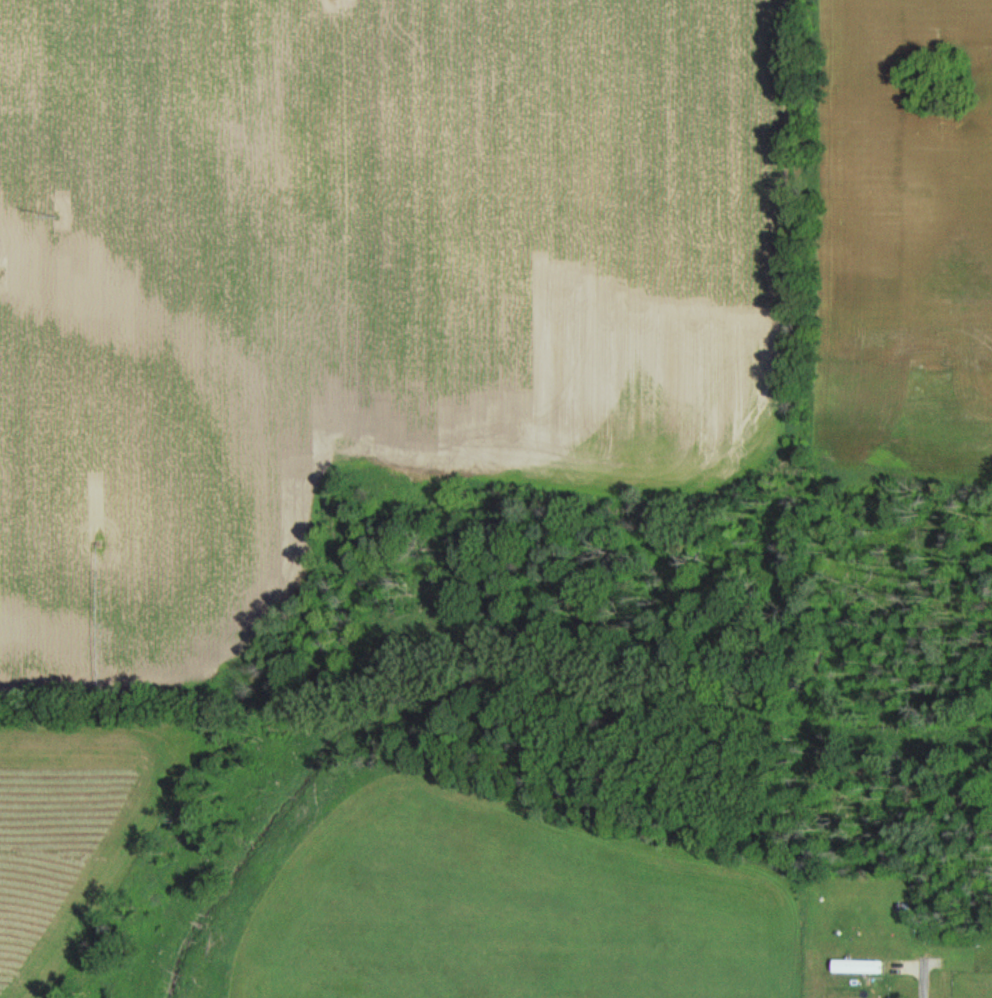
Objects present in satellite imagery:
power tower: (56, 217)
building: (851, 966)
road: (921, 980)

